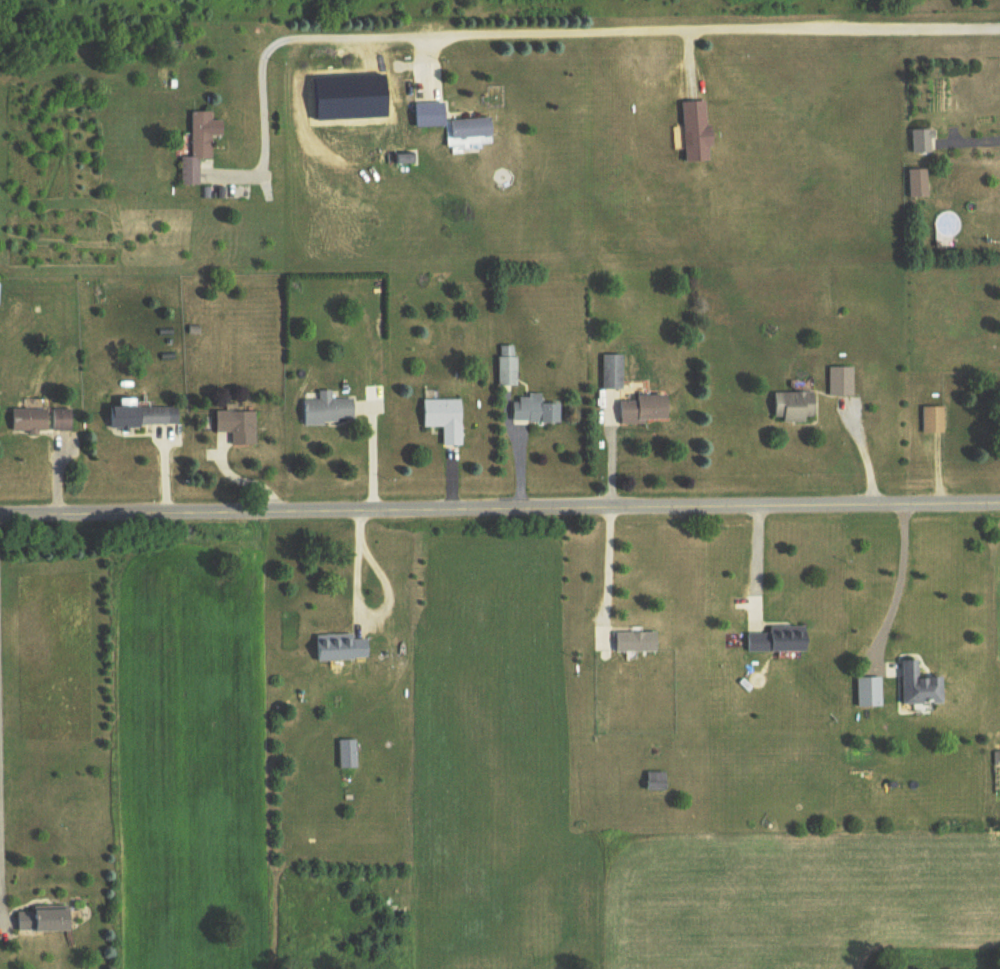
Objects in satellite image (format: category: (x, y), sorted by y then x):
road: (569, 34)
building: (431, 115)
building: (472, 131)
building: (698, 133)
building: (921, 142)
building: (197, 149)
building: (919, 184)
building: (508, 367)
building: (614, 373)
building: (847, 382)
building: (794, 407)
building: (329, 410)
building: (646, 410)
building: (537, 413)
building: (146, 417)
building: (447, 419)
building: (932, 420)
building: (42, 421)
building: (240, 427)
road: (371, 456)
road: (862, 456)
road: (239, 480)
road: (499, 509)
road: (756, 563)
road: (354, 566)
road: (607, 572)
road: (897, 587)
building: (780, 641)
building: (637, 643)
building: (341, 648)
building: (922, 687)
building: (347, 755)
building: (657, 783)
building: (47, 919)

